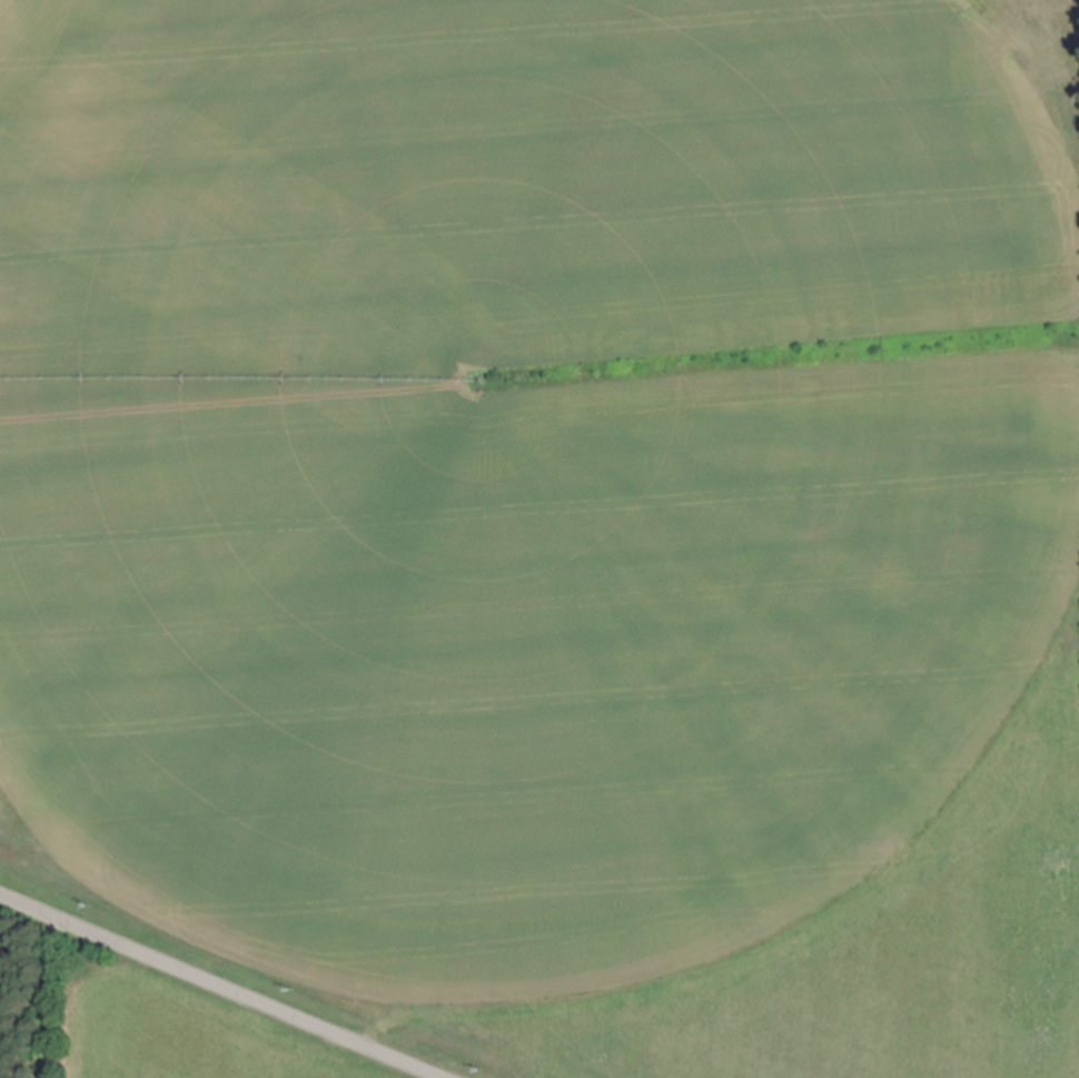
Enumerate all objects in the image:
road: (214, 989)

